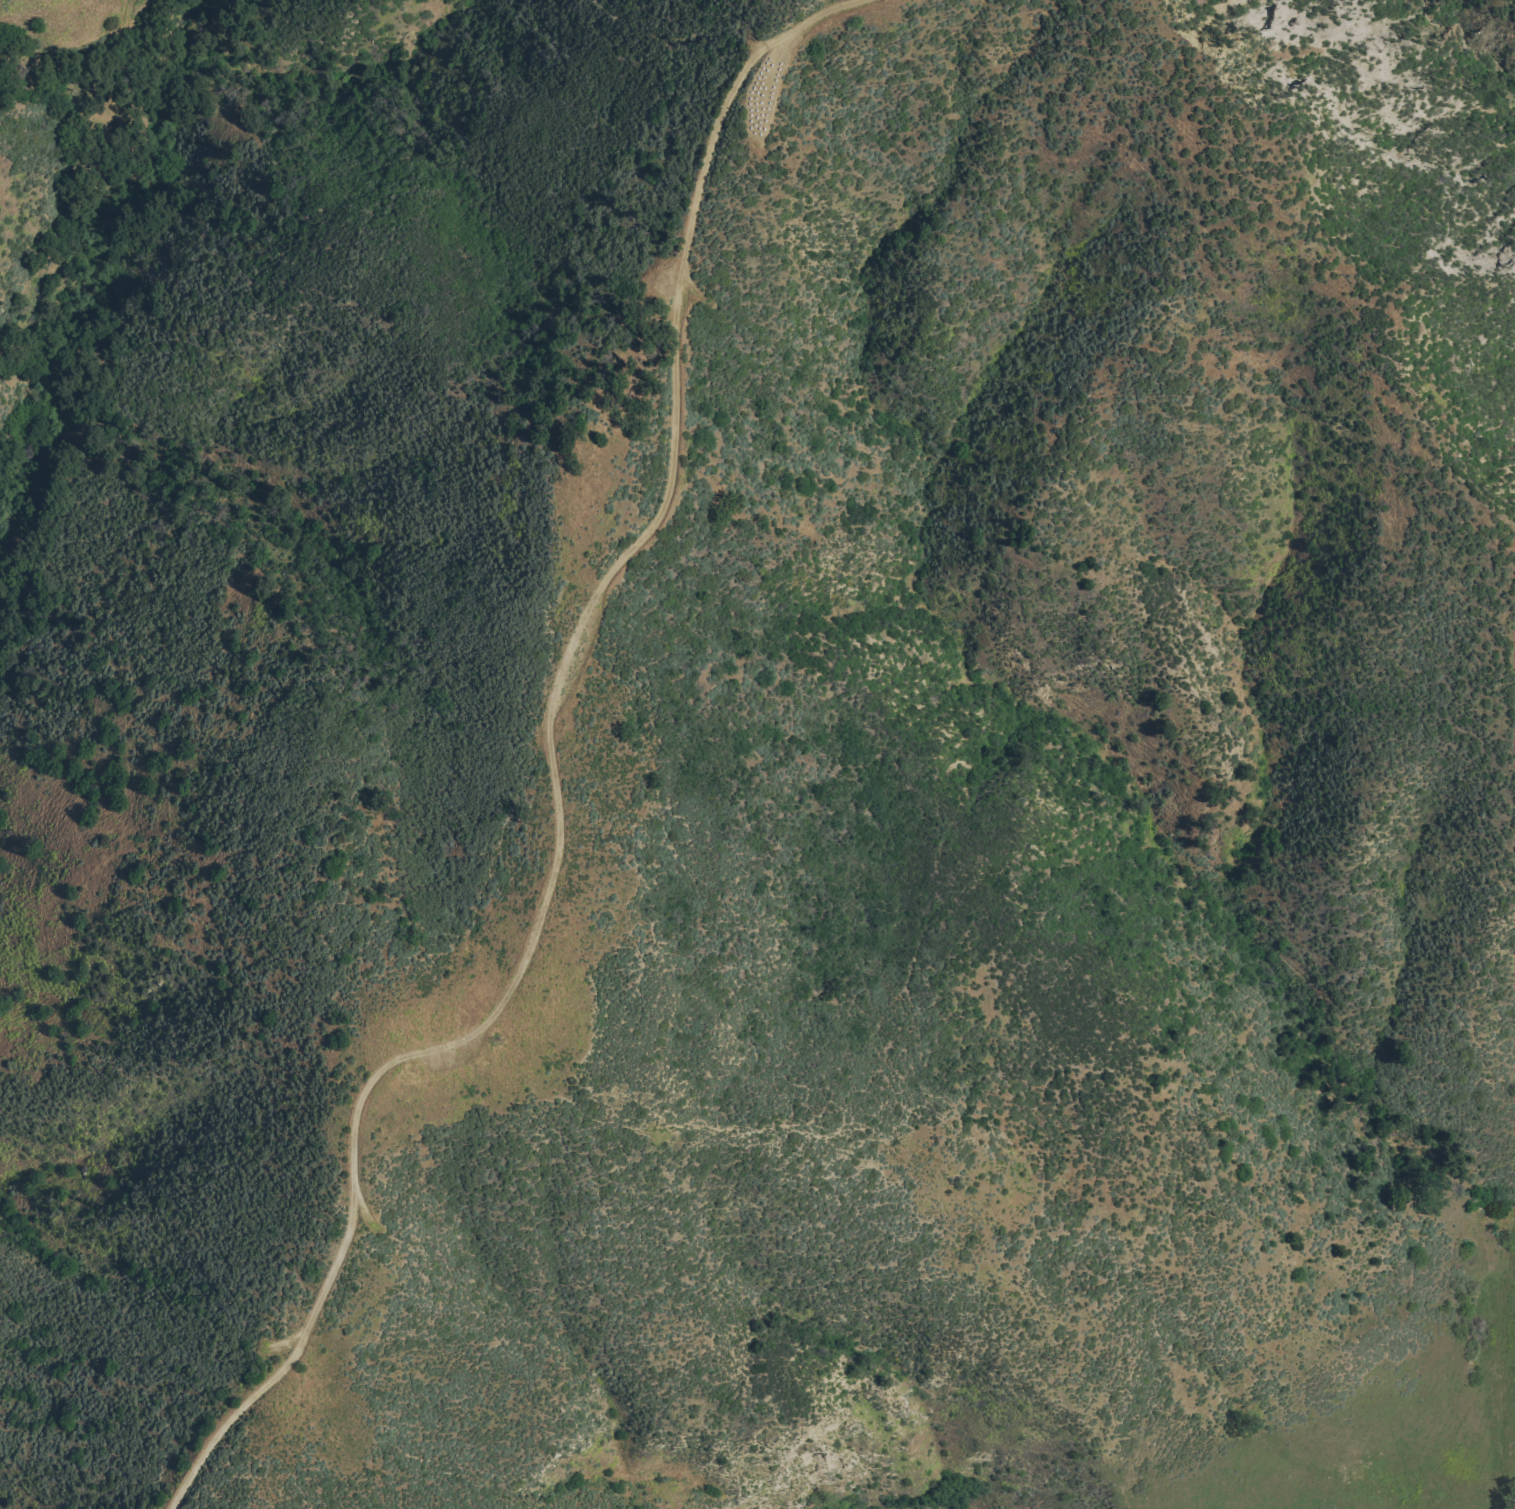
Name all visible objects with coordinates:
road: (562, 773)
road: (1508, 1224)

